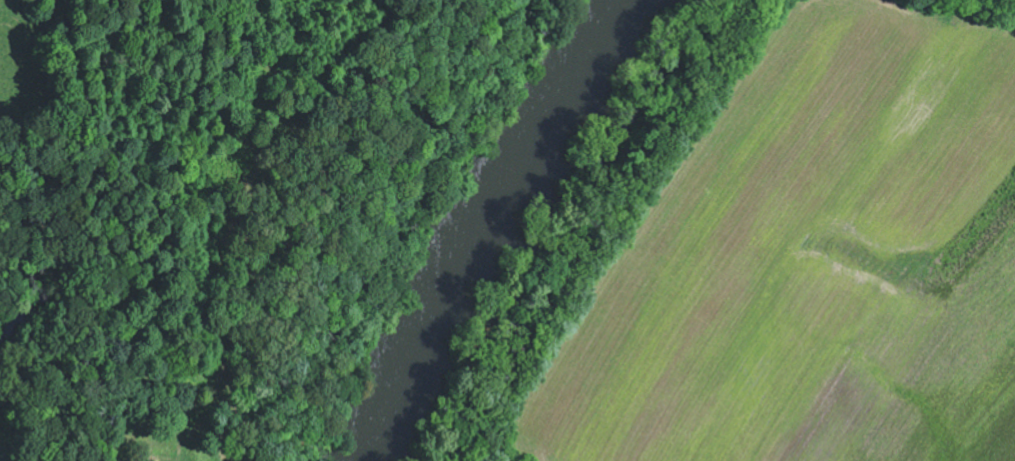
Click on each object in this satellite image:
river: (493, 221)

